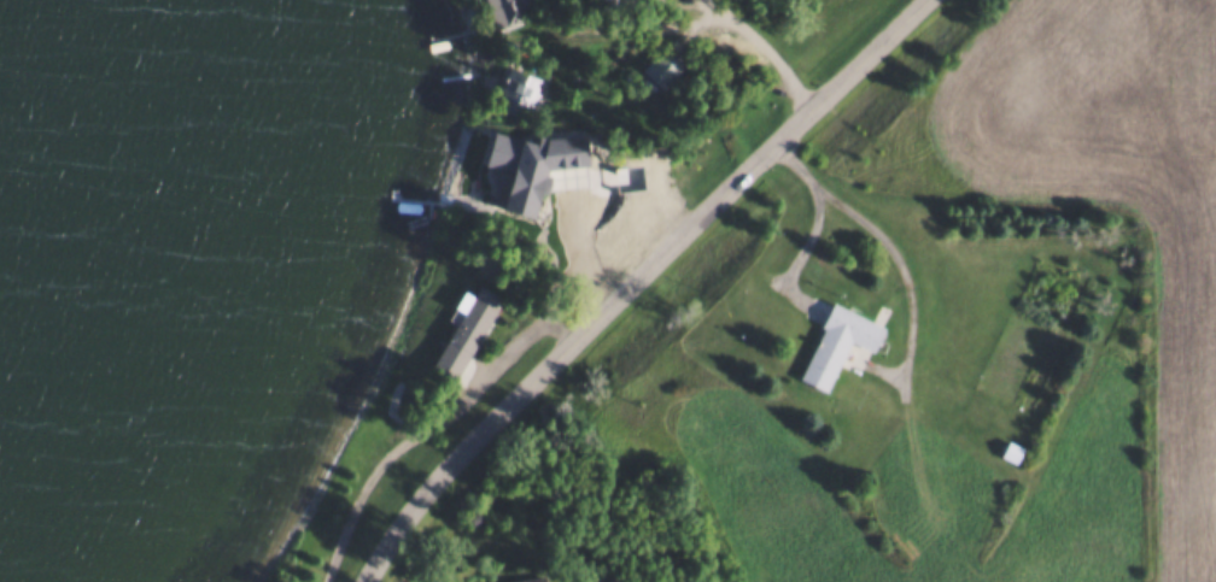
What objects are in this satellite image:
road: (712, 6)
building: (504, 8)
road: (701, 11)
building: (662, 61)
building: (522, 84)
building: (495, 175)
road: (551, 178)
building: (573, 194)
road: (890, 251)
road: (642, 281)
building: (466, 328)
building: (835, 340)
building: (1009, 448)
building: (510, 575)

